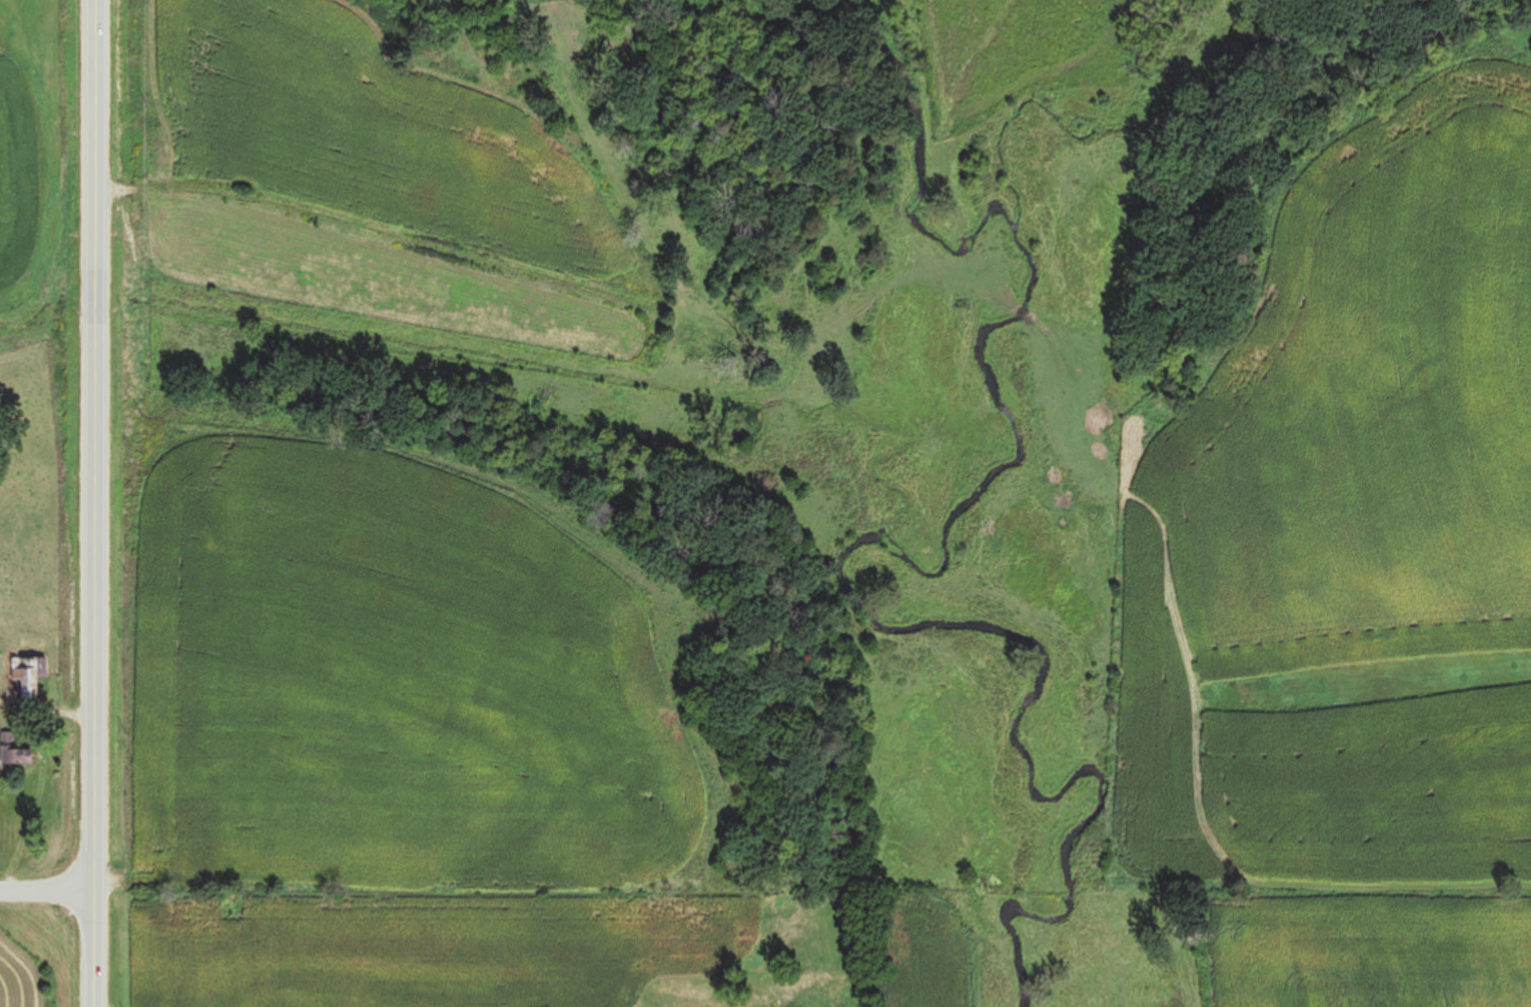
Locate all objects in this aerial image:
road: (94, 503)
river: (935, 624)
building: (30, 675)
building: (15, 749)
road: (46, 898)

